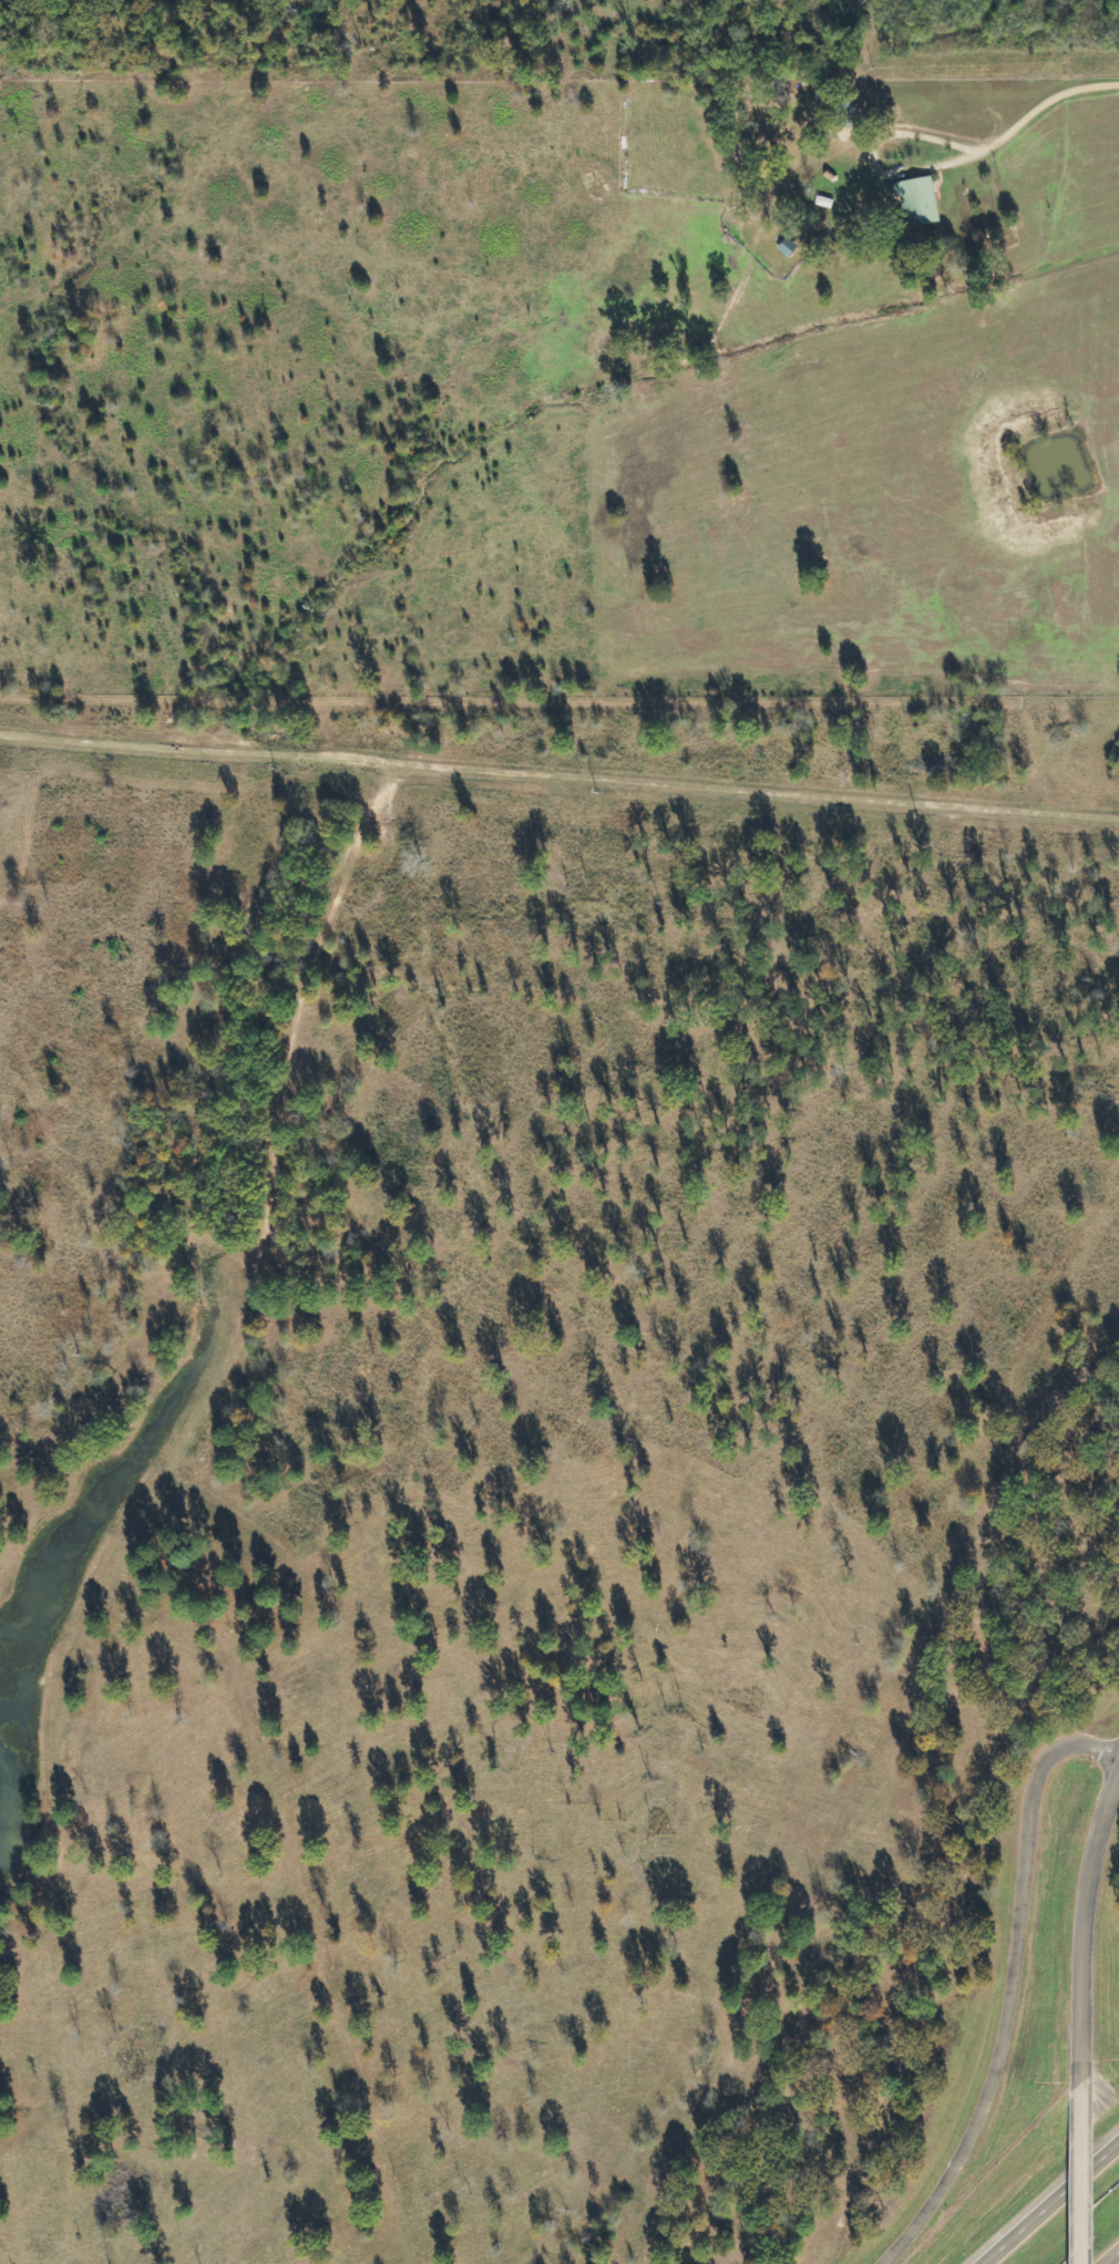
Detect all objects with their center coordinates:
building: (922, 198)
road: (1088, 1925)
road: (1015, 1986)
road: (1080, 2169)
road: (1054, 2205)
road: (1112, 2258)

